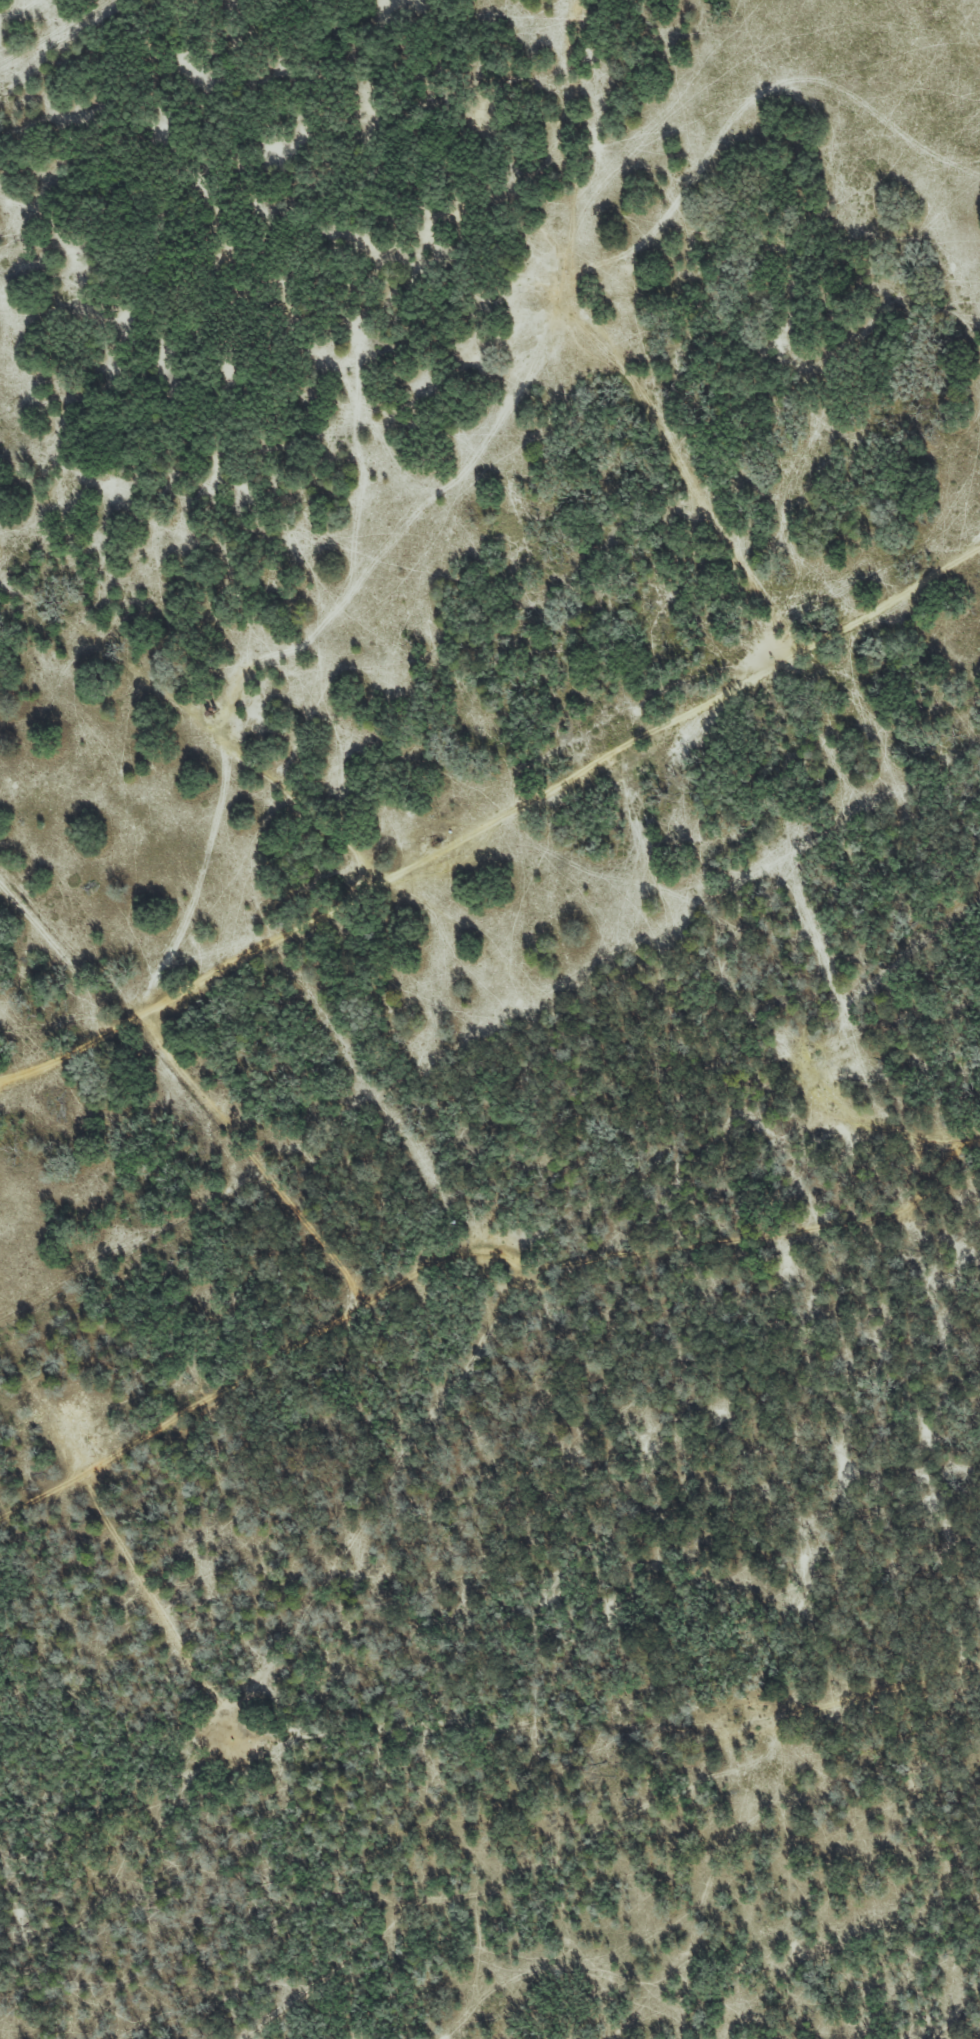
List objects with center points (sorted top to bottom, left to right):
road: (973, 548)
road: (303, 816)
road: (493, 821)

